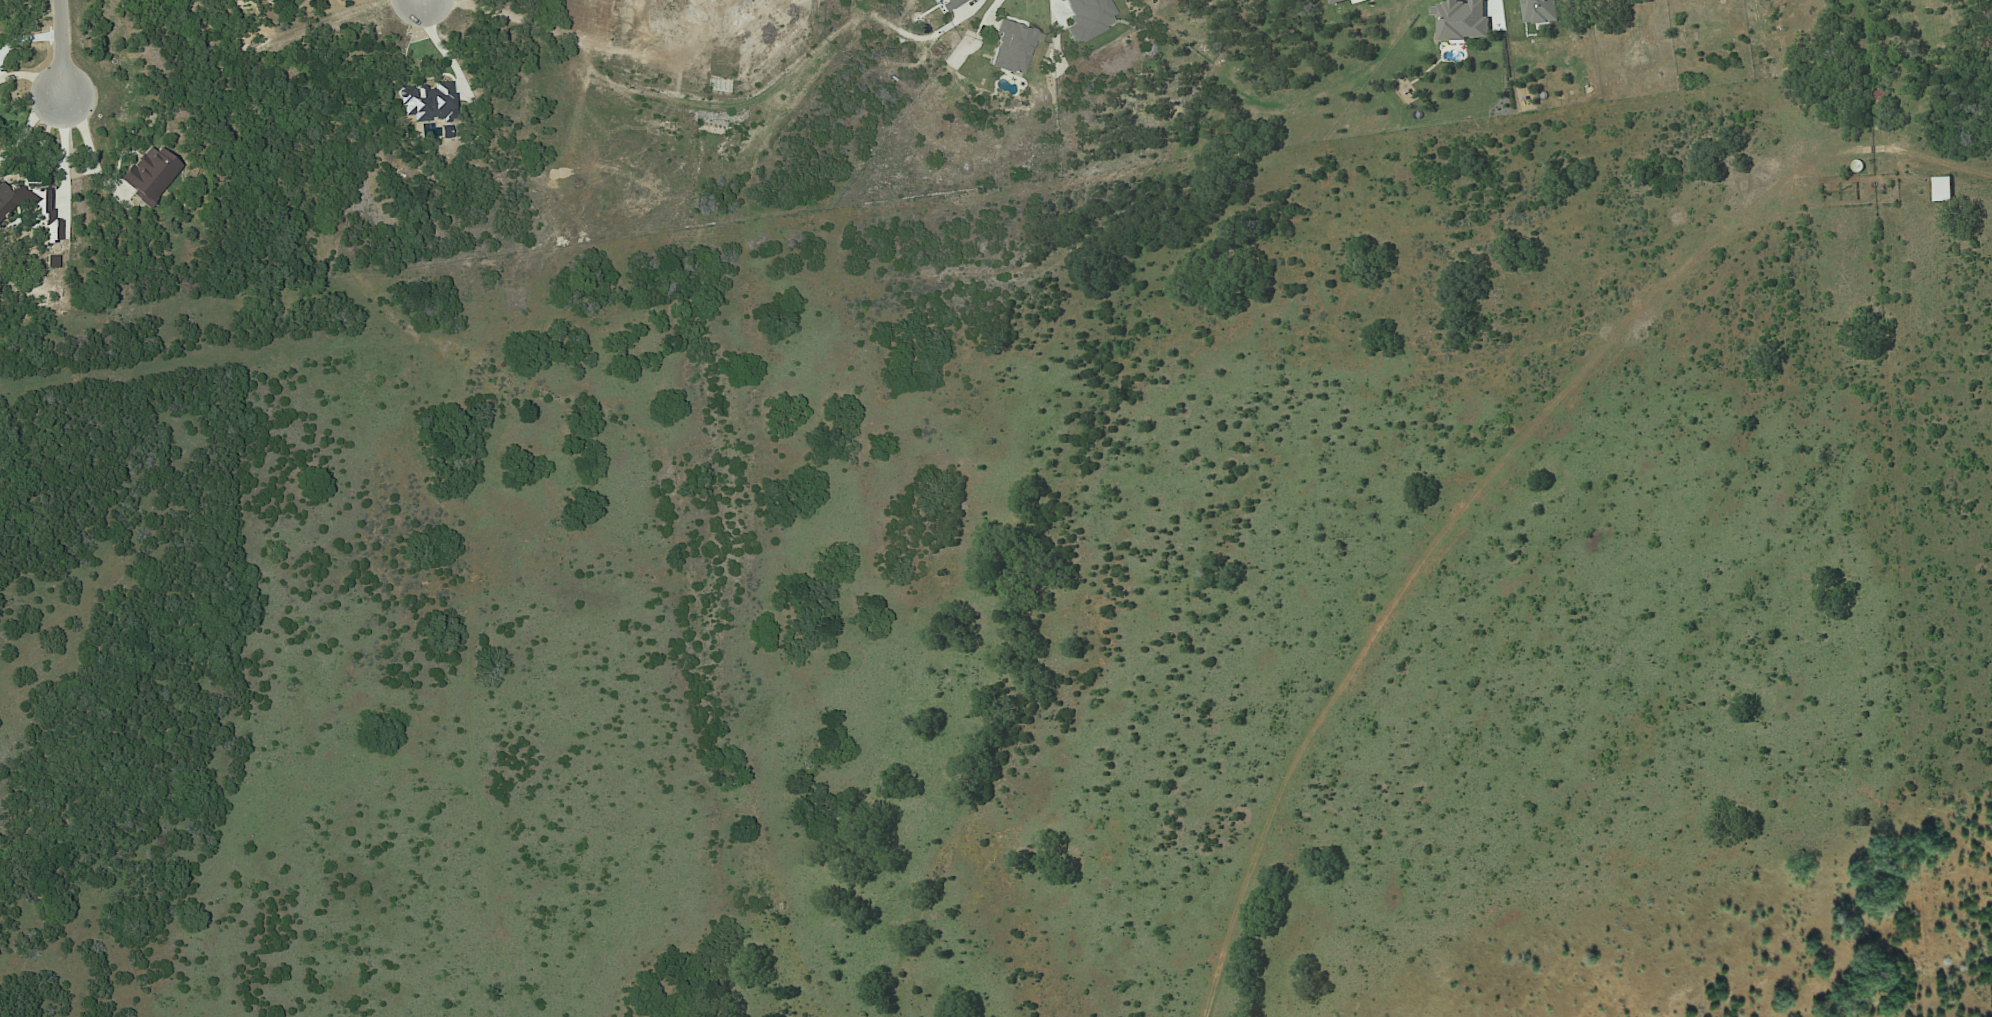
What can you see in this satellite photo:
building: (1337, 1)
building: (947, 4)
road: (970, 7)
road: (992, 8)
building: (1540, 11)
building: (1086, 17)
building: (1463, 19)
road: (437, 43)
road: (61, 47)
building: (1012, 47)
road: (31, 76)
building: (427, 102)
road: (30, 122)
road: (84, 153)
road: (60, 166)
building: (149, 174)
building: (1943, 189)
building: (31, 207)

